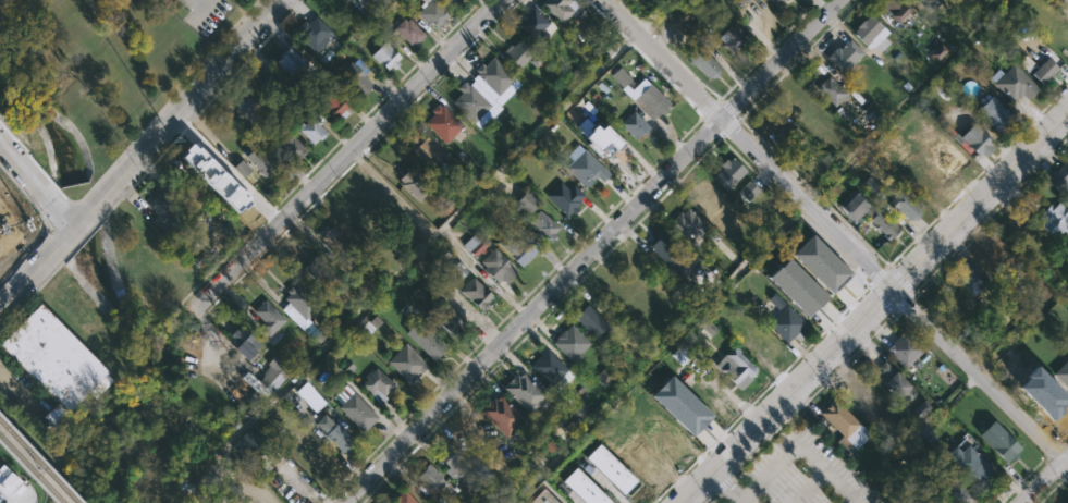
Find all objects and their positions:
building: (455, 0)
building: (786, 0)
building: (449, 1)
road: (202, 2)
building: (361, 2)
building: (740, 2)
building: (773, 2)
building: (924, 2)
road: (297, 5)
building: (561, 8)
building: (895, 8)
road: (200, 9)
building: (434, 15)
road: (606, 19)
building: (532, 25)
building: (407, 30)
building: (311, 33)
road: (444, 34)
building: (872, 34)
road: (475, 38)
building: (732, 39)
road: (629, 41)
building: (523, 53)
building: (385, 56)
building: (845, 56)
building: (290, 62)
building: (704, 63)
building: (1045, 71)
building: (493, 75)
building: (352, 77)
building: (1014, 82)
building: (270, 86)
building: (833, 90)
building: (641, 93)
road: (719, 96)
road: (720, 98)
building: (469, 101)
building: (332, 103)
road: (711, 109)
building: (250, 110)
road: (729, 110)
building: (993, 111)
road: (701, 116)
road: (740, 120)
building: (444, 124)
building: (634, 125)
road: (712, 126)
building: (778, 126)
road: (729, 127)
building: (311, 128)
building: (598, 136)
road: (721, 137)
building: (978, 139)
road: (747, 145)
building: (290, 146)
building: (942, 148)
building: (426, 152)
road: (348, 155)
road: (139, 156)
building: (256, 159)
building: (243, 168)
building: (586, 168)
building: (728, 173)
building: (216, 177)
building: (462, 177)
building: (1059, 179)
building: (930, 181)
building: (415, 183)
building: (179, 184)
road: (36, 185)
building: (748, 191)
building: (377, 196)
building: (564, 197)
building: (524, 201)
building: (904, 204)
building: (855, 205)
building: (161, 210)
road: (991, 213)
building: (356, 216)
building: (1056, 219)
road: (845, 222)
building: (884, 223)
building: (687, 224)
building: (543, 225)
road: (619, 238)
building: (337, 243)
building: (475, 244)
building: (995, 247)
building: (518, 248)
road: (589, 250)
building: (671, 253)
road: (887, 263)
building: (5, 265)
building: (821, 265)
building: (496, 266)
building: (451, 268)
building: (319, 269)
road: (877, 274)
road: (544, 275)
road: (859, 277)
building: (971, 277)
road: (900, 279)
building: (797, 287)
building: (476, 293)
road: (881, 298)
building: (298, 303)
road: (905, 303)
road: (872, 308)
building: (396, 314)
building: (446, 317)
building: (267, 318)
building: (785, 320)
building: (593, 323)
building: (759, 336)
building: (426, 339)
building: (244, 344)
building: (570, 344)
building: (905, 349)
building: (52, 361)
building: (407, 364)
building: (548, 367)
building: (736, 368)
building: (1063, 373)
building: (265, 377)
road: (980, 377)
building: (896, 382)
building: (380, 384)
building: (524, 392)
road: (814, 393)
building: (857, 393)
road: (760, 394)
building: (311, 396)
building: (1048, 397)
building: (682, 406)
building: (356, 408)
building: (920, 410)
building: (501, 416)
building: (845, 426)
building: (470, 432)
building: (337, 435)
road: (1063, 439)
building: (249, 440)
building: (1001, 441)
building: (667, 444)
road: (796, 444)
road: (1063, 447)
road: (1051, 451)
building: (451, 457)
railway: (36, 463)
building: (639, 463)
building: (972, 467)
road: (1053, 467)
building: (610, 468)
building: (476, 469)
railway: (29, 470)
parking lot: (798, 474)
road: (1066, 475)
building: (430, 478)
road: (1045, 480)
building: (5, 481)
road: (1021, 481)
road: (722, 483)
road: (376, 488)
building: (584, 488)
road: (724, 488)
road: (810, 488)
building: (958, 490)
road: (1052, 490)
building: (403, 498)
building: (543, 498)
road: (707, 499)
building: (378, 502)
road: (852, 502)
building: (929, 502)
building: (1067, 502)

